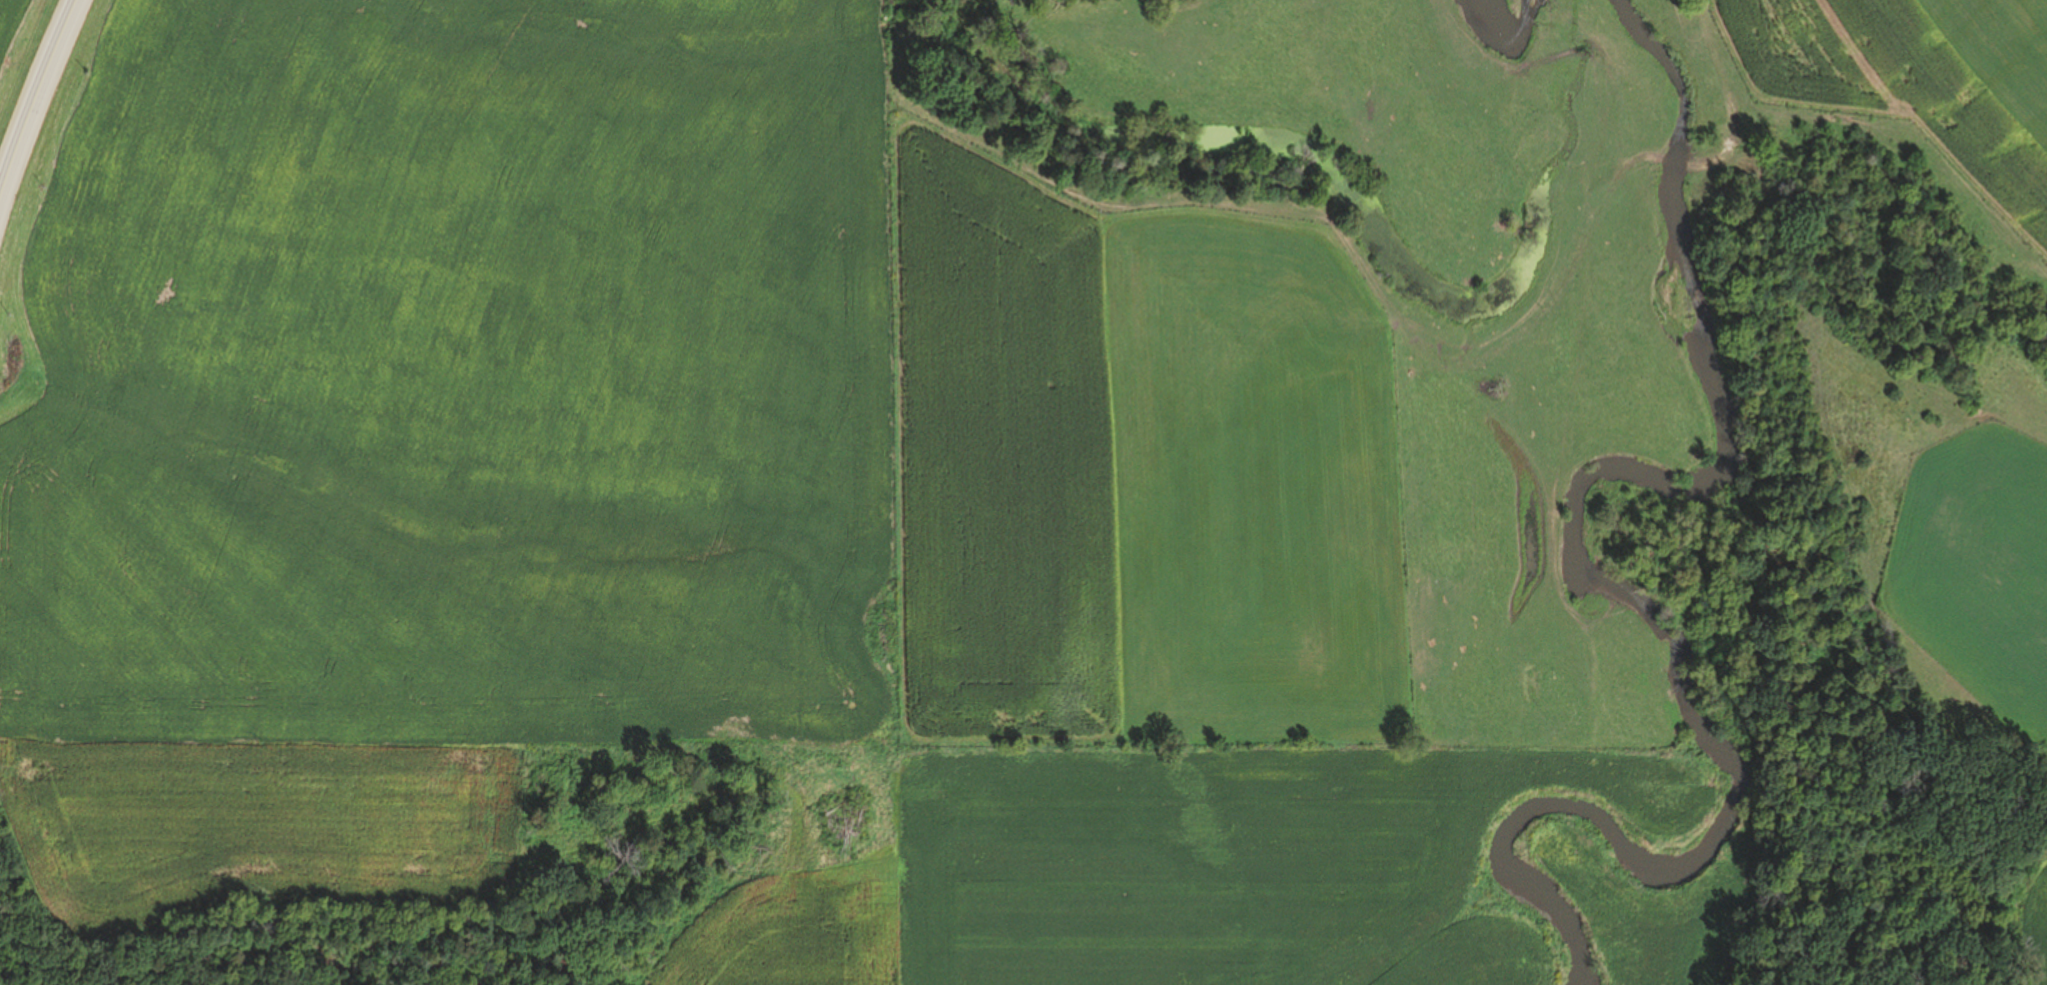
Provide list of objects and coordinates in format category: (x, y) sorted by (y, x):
road: (36, 95)

